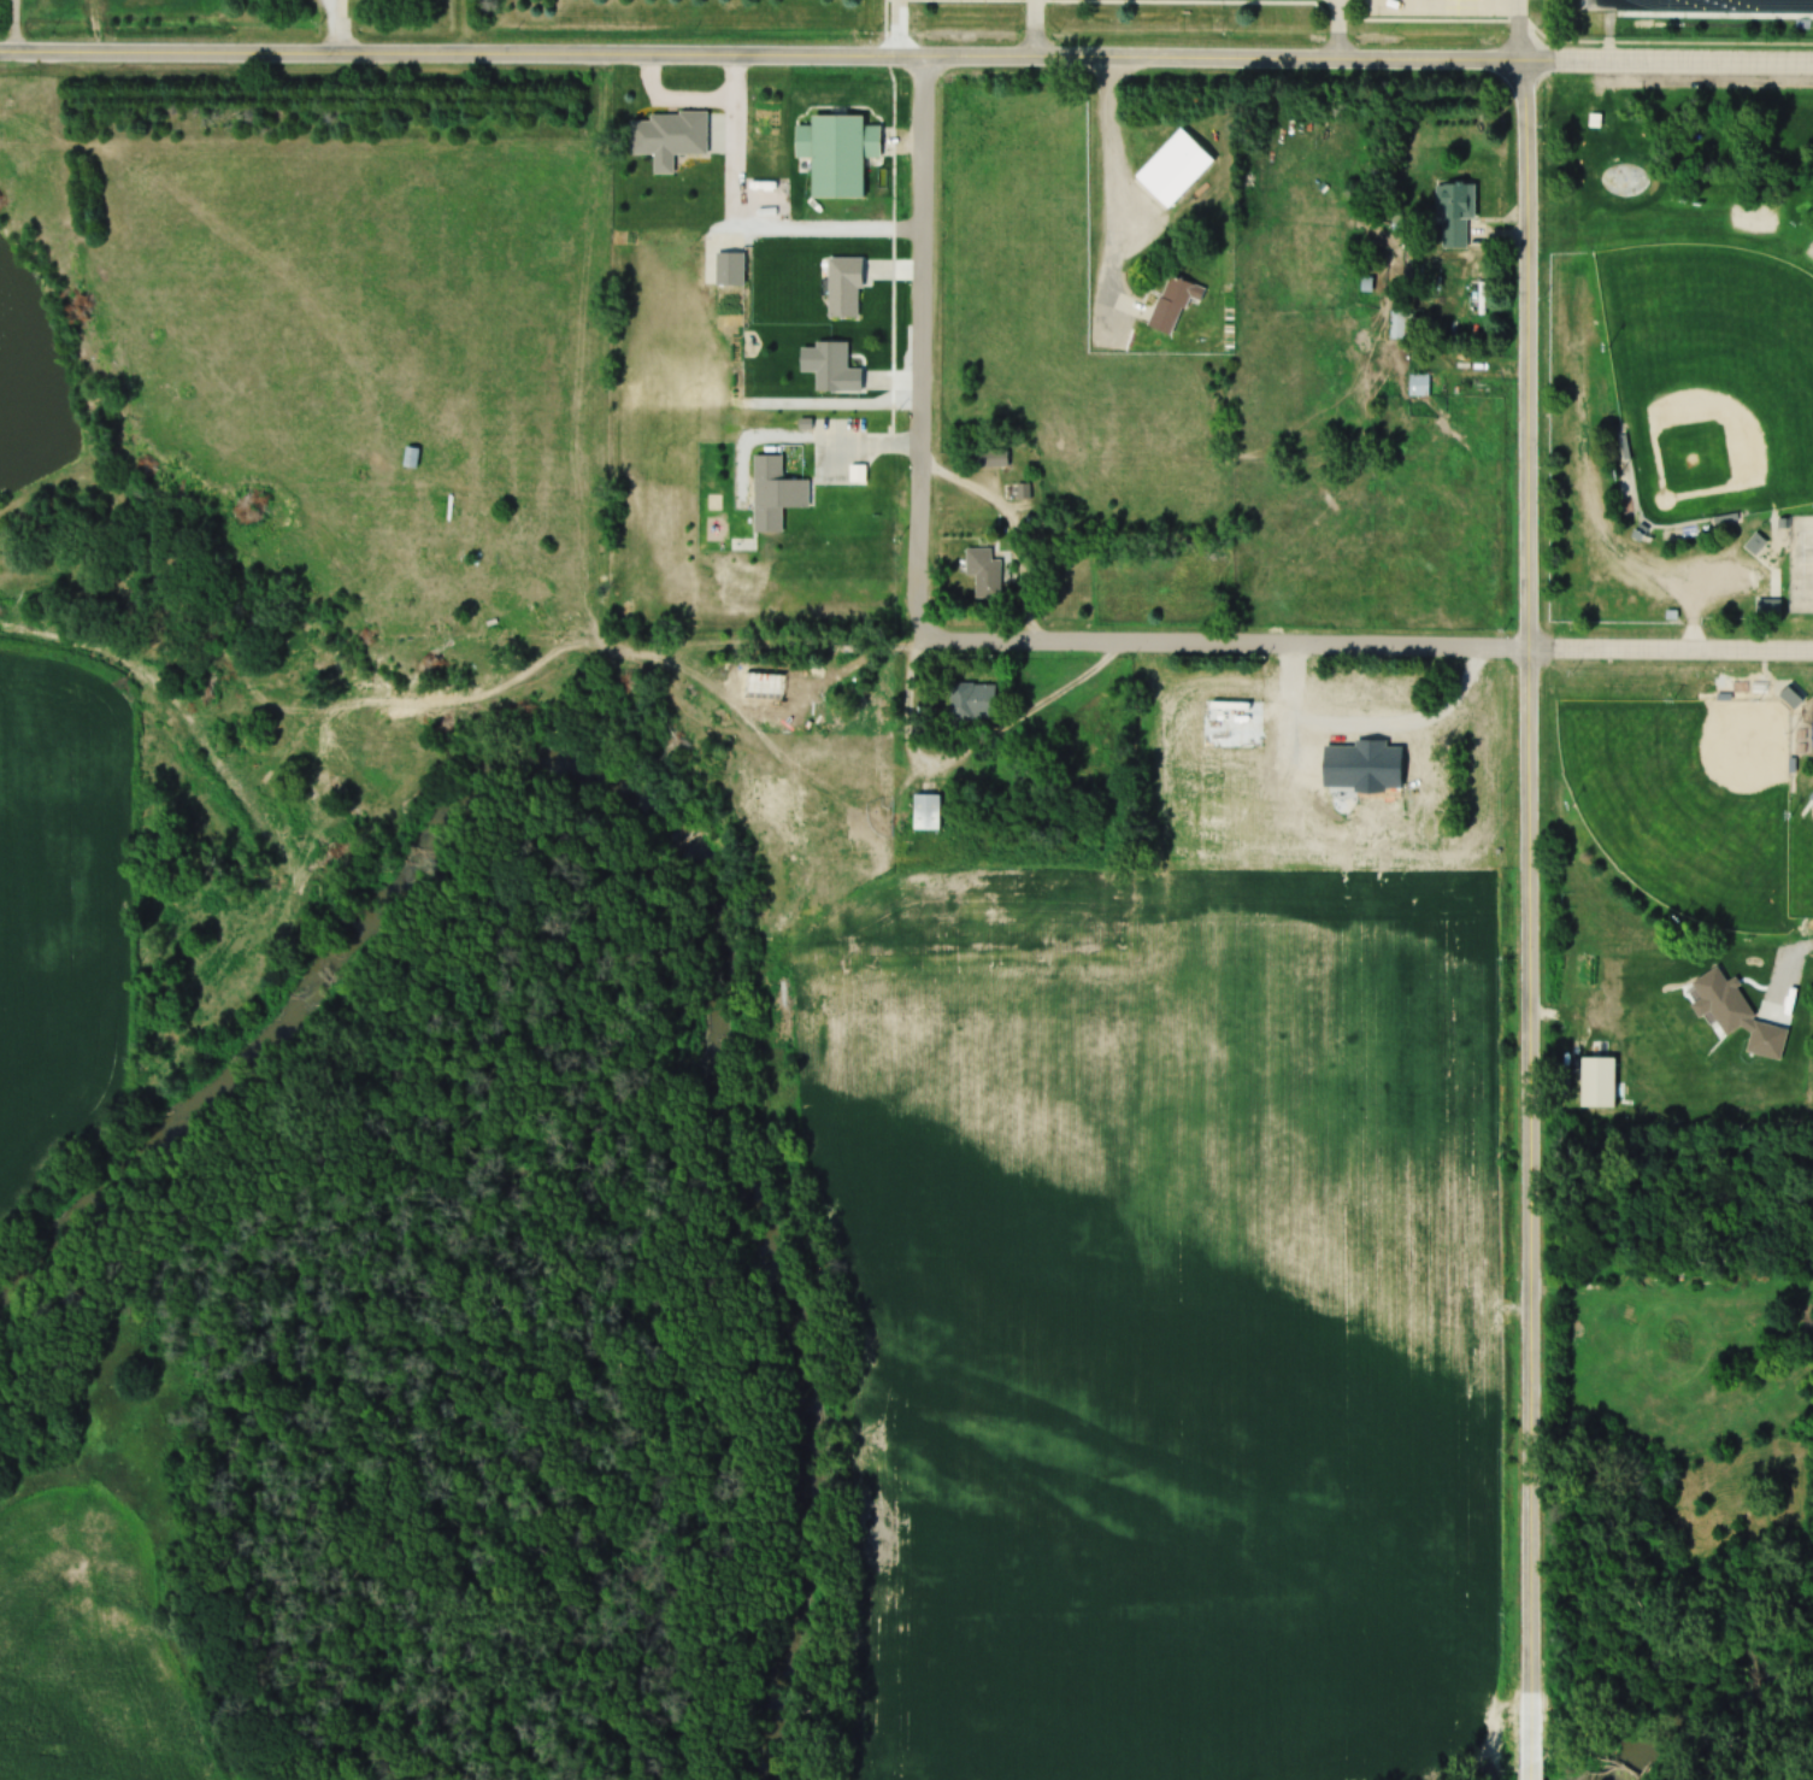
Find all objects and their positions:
road: (18, 23)
road: (340, 23)
road: (899, 27)
road: (1035, 27)
road: (1338, 28)
road: (1515, 30)
road: (758, 51)
road: (1664, 60)
building: (667, 136)
building: (836, 152)
building: (1171, 168)
road: (1109, 190)
building: (1452, 212)
building: (728, 268)
building: (842, 287)
building: (1171, 301)
building: (1397, 323)
road: (924, 357)
building: (832, 368)
park: (1709, 375)
building: (1415, 384)
building: (991, 457)
building: (773, 492)
building: (1753, 545)
building: (982, 571)
building: (1765, 606)
road: (1241, 638)
road: (1668, 648)
building: (1788, 697)
building: (970, 700)
road: (1040, 700)
building: (816, 725)
park: (1684, 800)
building: (802, 807)
building: (923, 811)
road: (1529, 920)
building: (1658, 1273)

